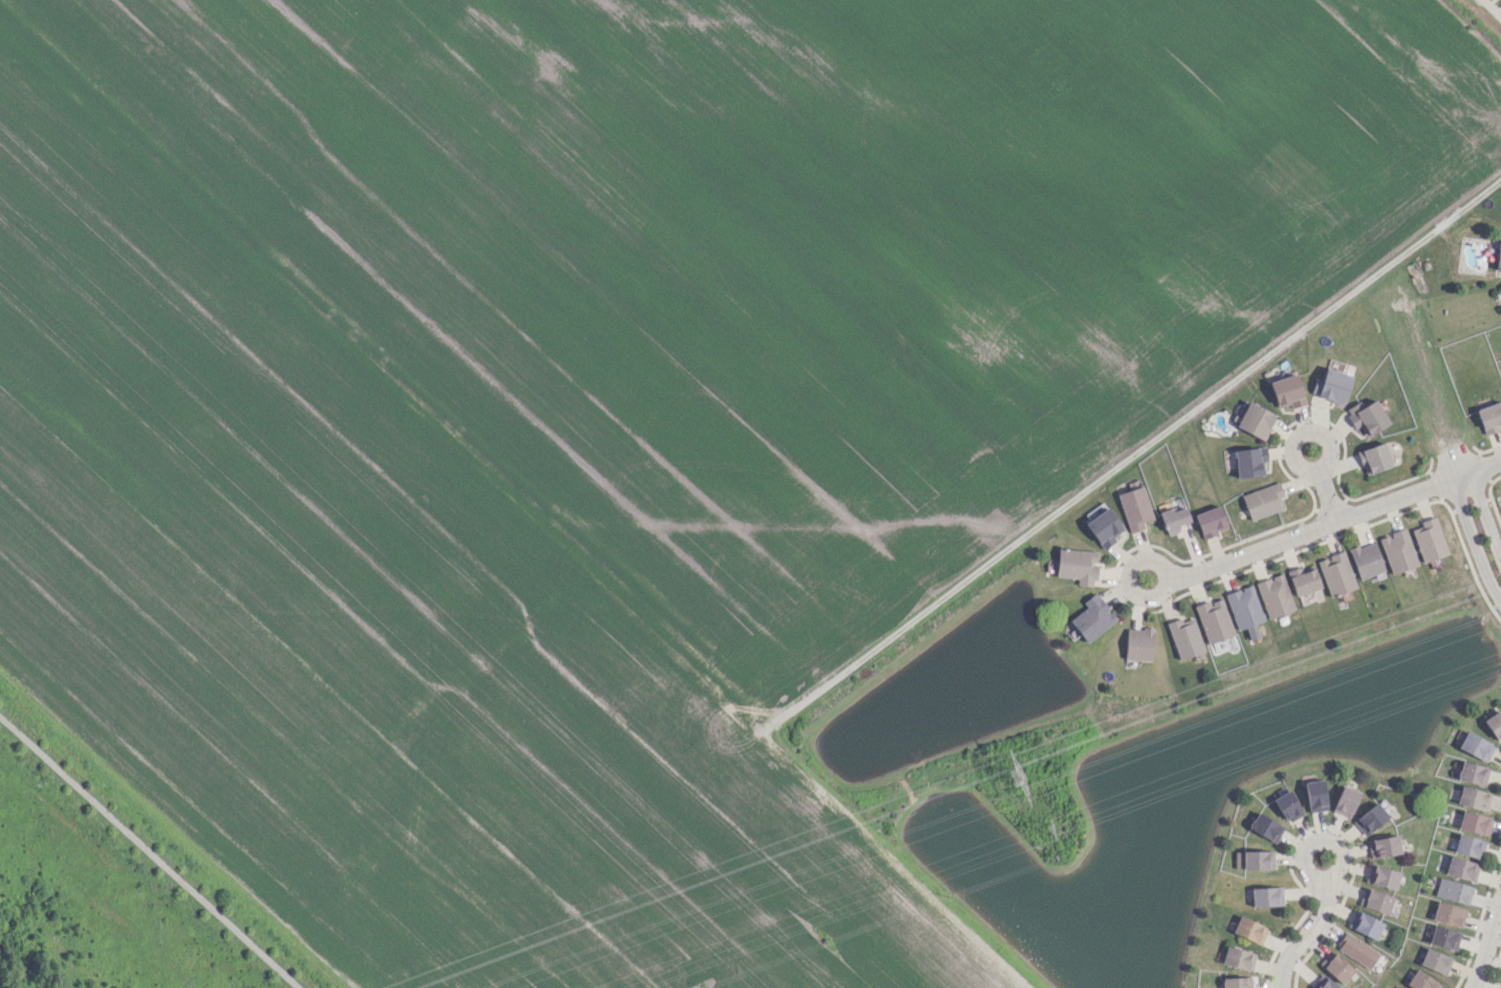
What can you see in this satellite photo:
road: (1491, 8)
building: (1498, 257)
building: (1331, 386)
building: (1286, 391)
building: (1490, 416)
building: (1366, 417)
building: (1255, 420)
road: (1303, 430)
road: (1157, 435)
building: (1374, 458)
building: (1248, 463)
road: (1485, 466)
road: (1325, 496)
building: (1263, 500)
building: (1134, 508)
road: (1484, 517)
building: (1174, 519)
building: (1210, 521)
building: (1103, 528)
road: (1318, 528)
building: (1429, 540)
road: (1471, 543)
building: (1397, 551)
building: (1366, 560)
building: (1077, 566)
building: (1336, 574)
road: (1165, 577)
building: (1303, 580)
building: (1274, 596)
building: (1244, 607)
building: (1092, 618)
building: (1213, 620)
building: (1185, 638)
building: (1138, 644)
building: (1495, 726)
building: (1475, 746)
building: (1472, 773)
power tower: (1015, 776)
building: (1315, 795)
building: (1473, 798)
building: (1345, 801)
building: (1287, 806)
building: (1370, 819)
building: (1474, 823)
power tower: (1048, 827)
building: (1265, 827)
building: (1383, 846)
building: (1468, 846)
road: (146, 854)
building: (1254, 860)
road: (1303, 860)
building: (1461, 869)
building: (1381, 877)
building: (1453, 891)
building: (1266, 896)
building: (1375, 901)
building: (1448, 914)
building: (1365, 925)
building: (1249, 930)
road: (1304, 934)
building: (1444, 938)
road: (1487, 942)
building: (1357, 950)
building: (1238, 958)
building: (1435, 961)
building: (1336, 967)
building: (1421, 981)
building: (1236, 982)
building: (1323, 983)
building: (1401, 987)

